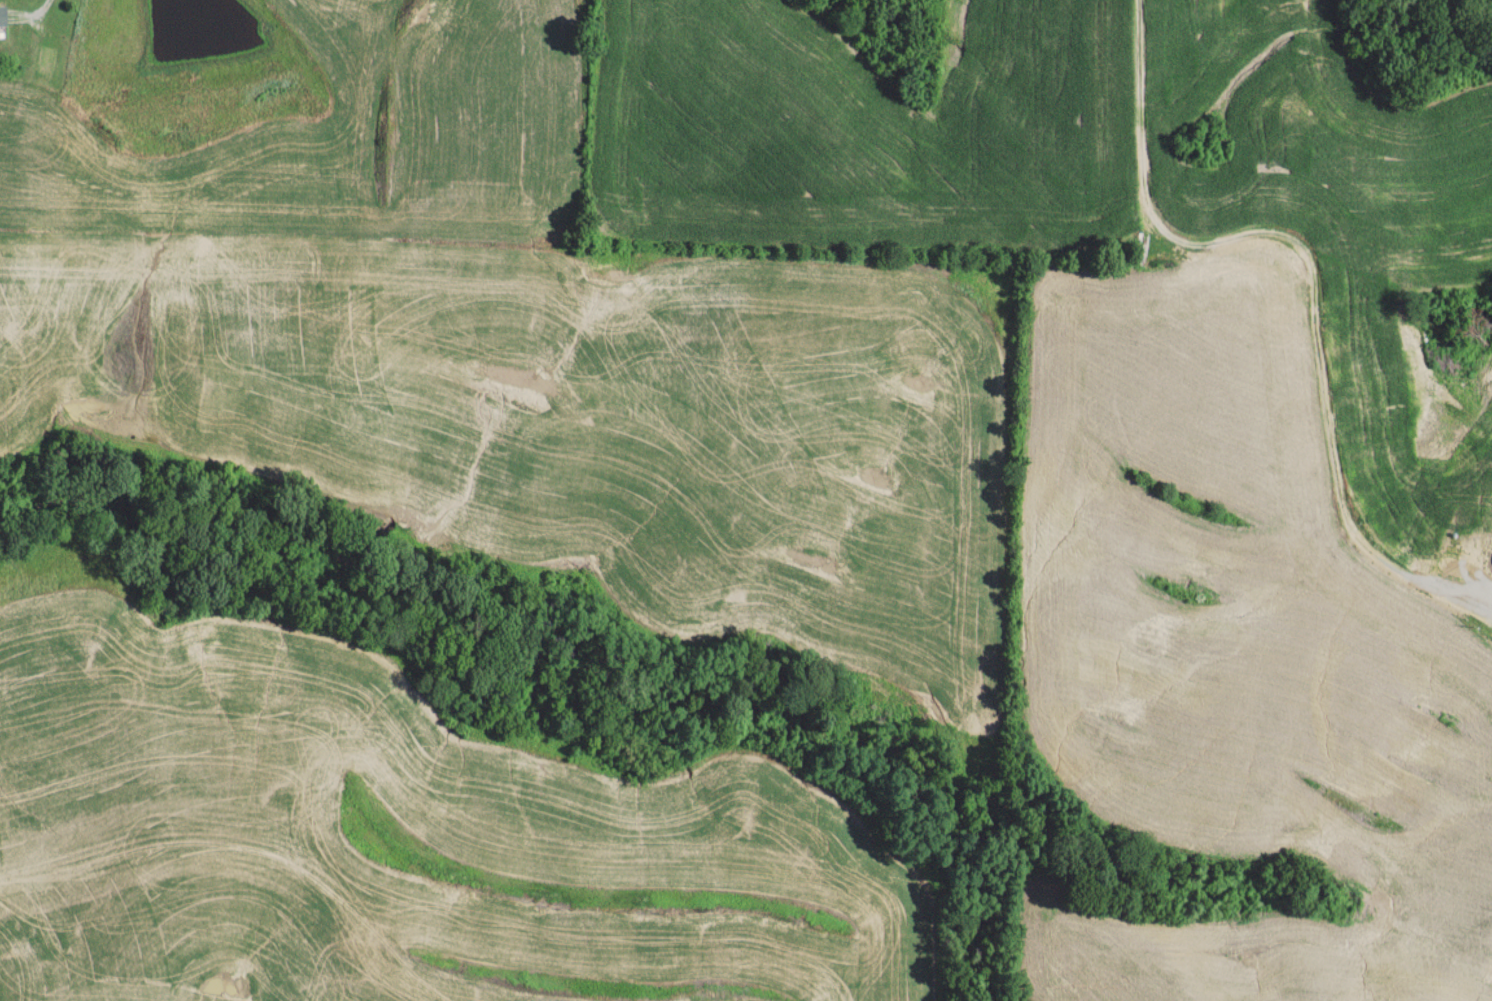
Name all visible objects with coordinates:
building: (5, 17)
road: (48, 24)
road: (1322, 283)
building: (1468, 590)

